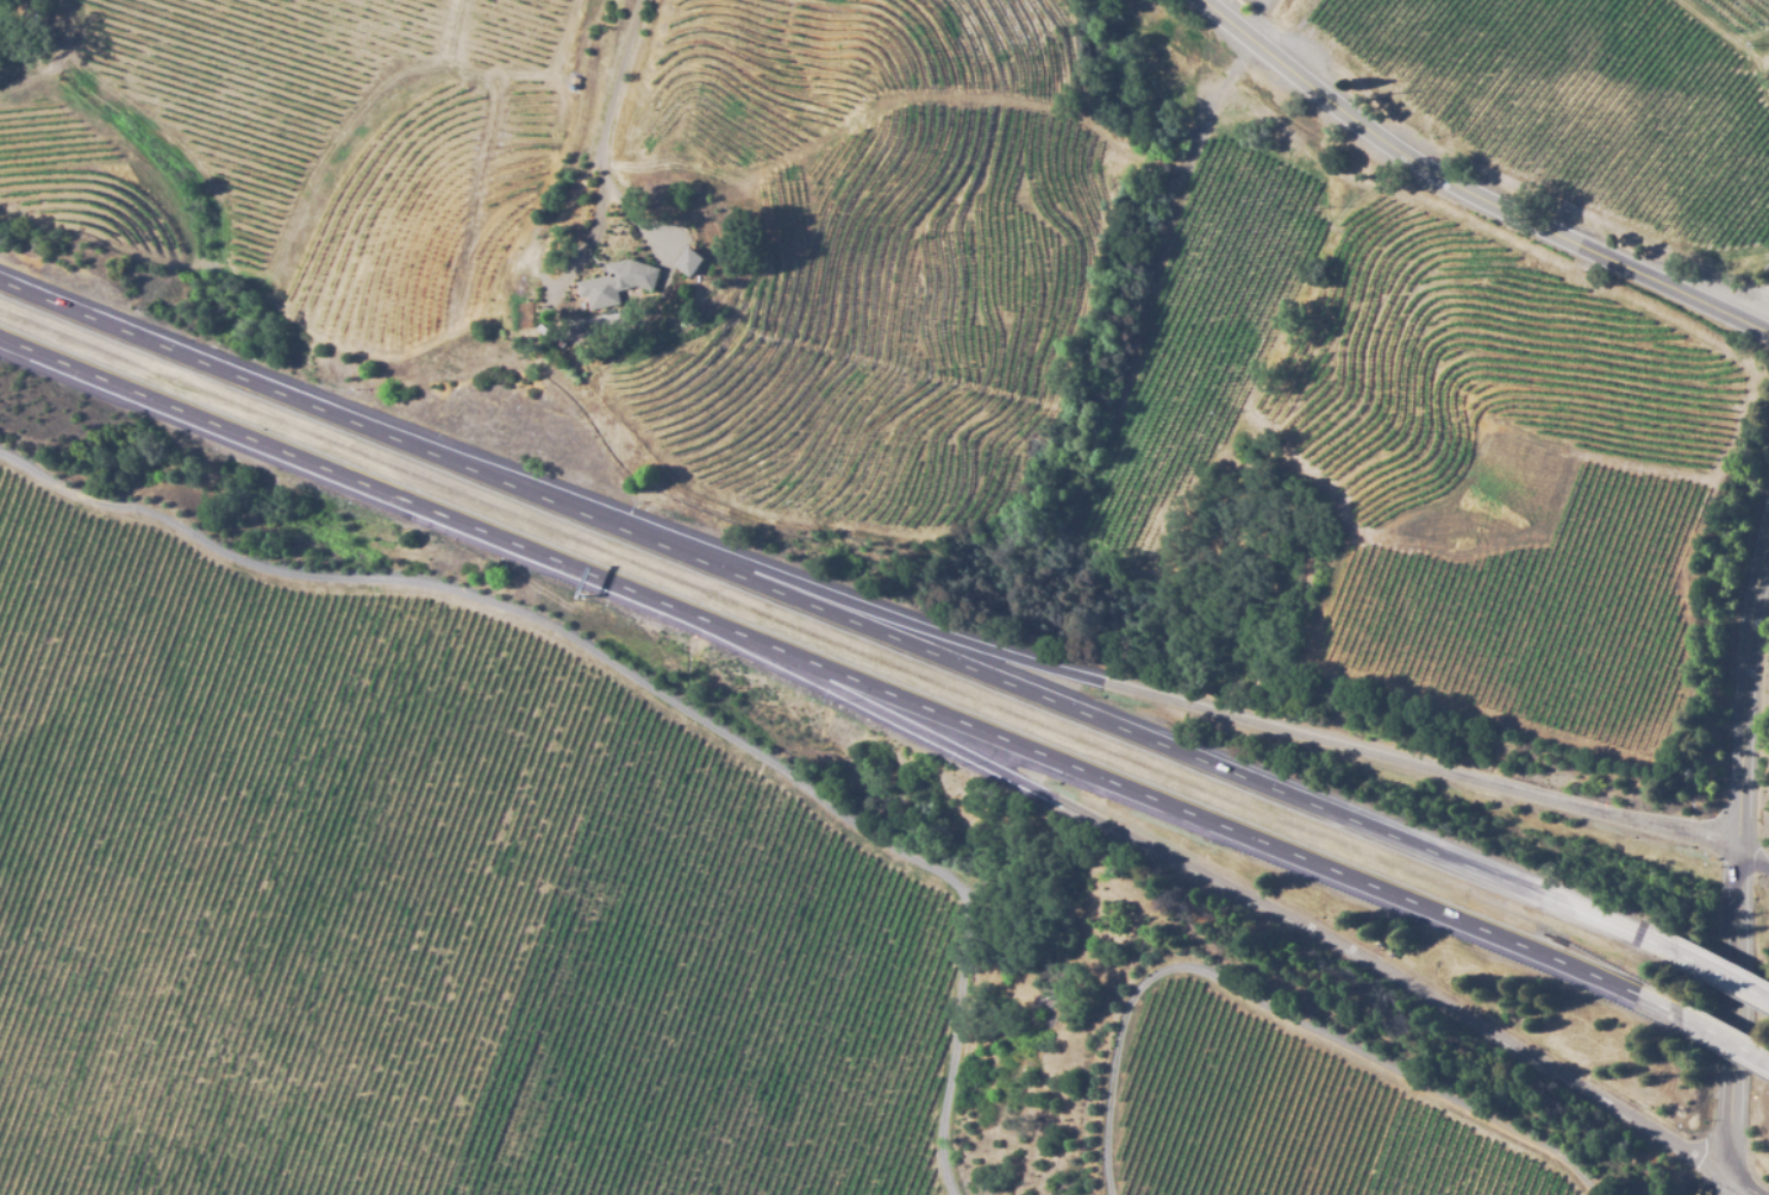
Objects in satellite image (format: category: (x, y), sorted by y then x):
road: (1252, 17)
building: (33, 20)
road: (625, 86)
road: (1468, 195)
building: (687, 263)
building: (614, 283)
road: (1164, 296)
road: (846, 622)
road: (848, 684)
road: (1249, 724)
road: (1738, 853)
road: (1754, 858)
road: (1279, 906)
road: (1732, 983)
road: (1734, 1043)
road: (812, 1122)
road: (287, 1149)
road: (1727, 1185)
road: (1743, 1185)

